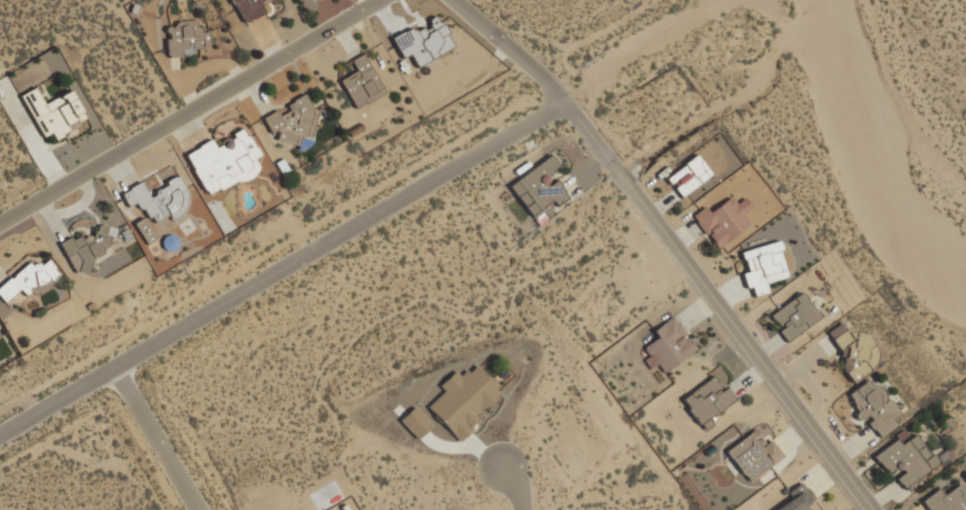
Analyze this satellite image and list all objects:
building: (249, 8)
building: (185, 36)
road: (639, 47)
building: (362, 80)
building: (51, 110)
road: (190, 110)
building: (292, 120)
river: (867, 155)
building: (224, 160)
building: (688, 173)
building: (539, 185)
building: (159, 198)
building: (722, 219)
building: (145, 229)
building: (172, 241)
road: (673, 244)
building: (89, 245)
building: (763, 265)
road: (282, 270)
building: (28, 279)
building: (794, 315)
building: (669, 342)
building: (850, 346)
building: (708, 397)
building: (462, 399)
building: (873, 405)
building: (415, 421)
road: (156, 439)
building: (753, 453)
building: (906, 458)
road: (519, 490)
building: (947, 499)
building: (794, 500)

